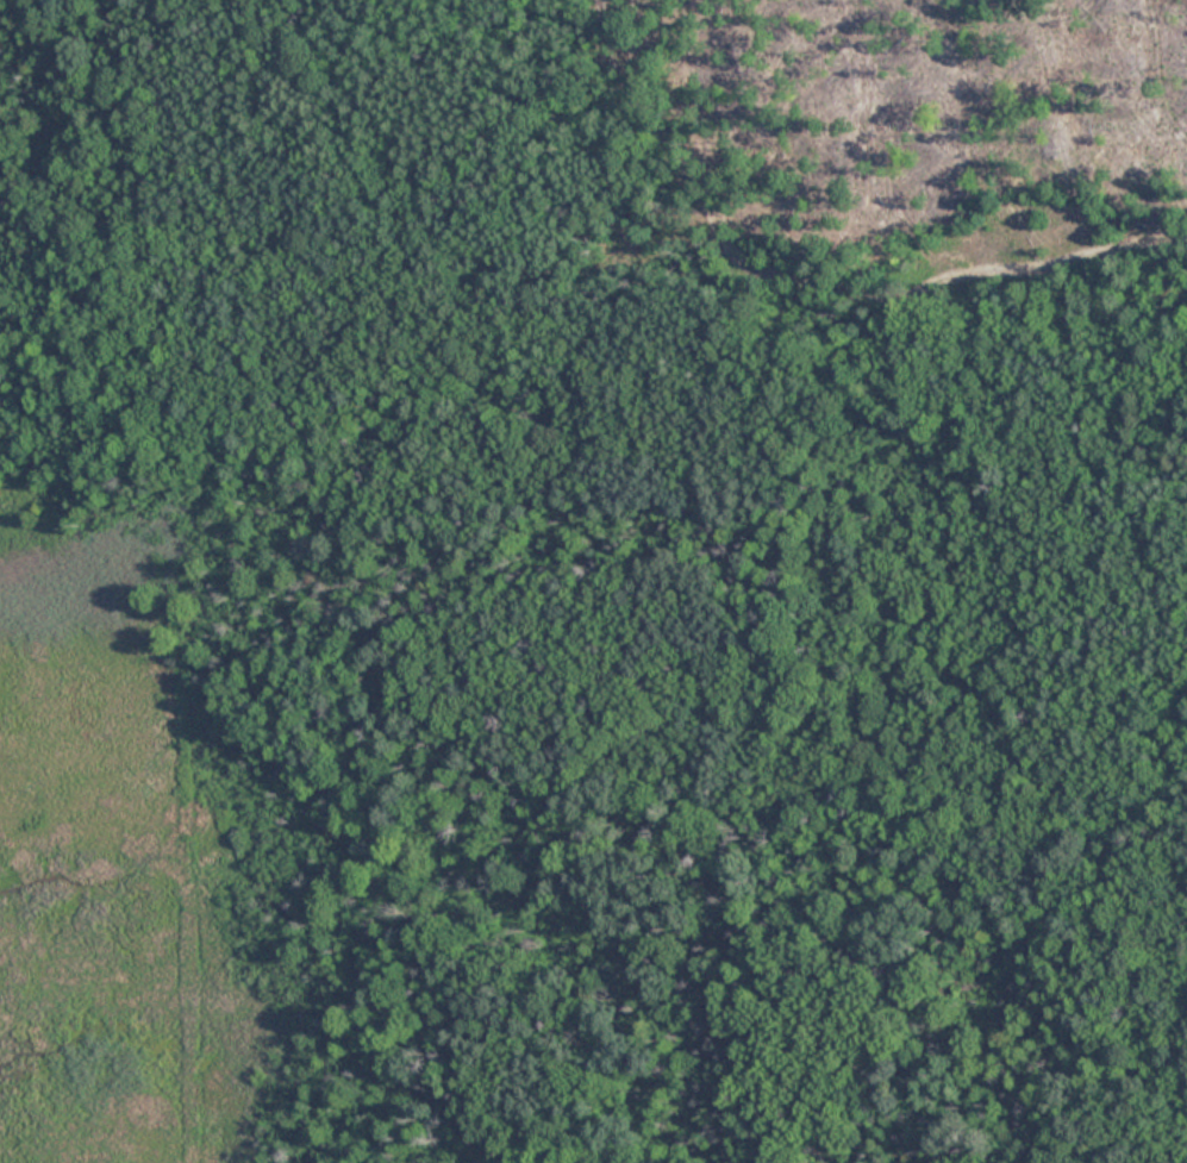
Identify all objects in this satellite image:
park: (593, 581)

